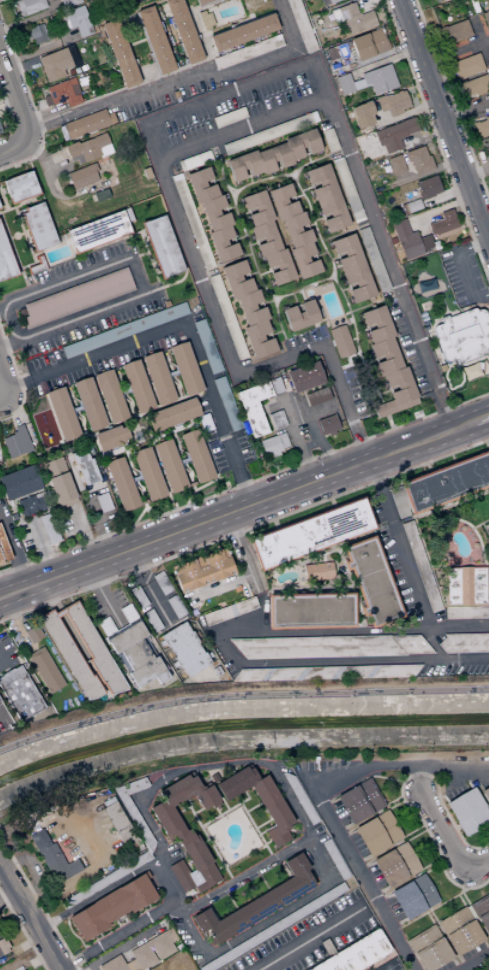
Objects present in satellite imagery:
building: (83, 0)
building: (434, 0)
building: (330, 1)
road: (359, 1)
building: (69, 2)
building: (203, 2)
building: (323, 2)
building: (29, 6)
building: (333, 15)
building: (353, 19)
building: (485, 19)
building: (64, 20)
building: (79, 20)
building: (205, 20)
road: (15, 24)
building: (300, 25)
building: (184, 30)
road: (476, 31)
building: (245, 32)
building: (453, 32)
building: (38, 33)
building: (156, 40)
building: (368, 44)
road: (40, 50)
road: (455, 50)
building: (247, 52)
building: (121, 53)
road: (376, 55)
road: (381, 62)
building: (55, 64)
building: (465, 65)
road: (2, 66)
road: (21, 66)
road: (184, 76)
building: (378, 78)
building: (343, 84)
building: (73, 86)
building: (473, 86)
road: (228, 90)
building: (61, 94)
road: (7, 96)
road: (15, 97)
road: (412, 99)
road: (451, 101)
building: (392, 103)
road: (31, 104)
building: (56, 104)
road: (9, 106)
road: (465, 109)
road: (44, 111)
road: (9, 115)
building: (360, 115)
road: (401, 115)
building: (229, 117)
road: (443, 121)
building: (86, 124)
building: (481, 126)
road: (242, 127)
building: (0, 132)
building: (268, 133)
building: (394, 134)
building: (328, 140)
road: (436, 141)
building: (300, 144)
road: (12, 147)
building: (87, 148)
building: (105, 150)
building: (271, 158)
building: (193, 160)
building: (418, 160)
building: (241, 165)
building: (395, 165)
road: (476, 172)
road: (423, 174)
building: (83, 176)
road: (289, 177)
road: (217, 179)
road: (224, 182)
building: (199, 185)
building: (20, 187)
building: (426, 187)
road: (231, 188)
building: (347, 190)
road: (2, 191)
road: (54, 193)
building: (101, 195)
road: (443, 195)
building: (325, 198)
road: (3, 201)
building: (367, 201)
building: (281, 202)
road: (17, 205)
building: (412, 206)
building: (255, 208)
road: (435, 210)
building: (212, 214)
road: (241, 214)
road: (484, 220)
road: (239, 221)
building: (192, 222)
building: (443, 222)
building: (38, 227)
building: (429, 228)
building: (294, 230)
building: (99, 232)
road: (449, 232)
road: (21, 233)
road: (10, 237)
road: (239, 237)
road: (13, 238)
building: (263, 238)
building: (405, 240)
building: (424, 242)
road: (107, 243)
road: (27, 244)
building: (220, 244)
road: (251, 244)
road: (382, 245)
building: (162, 247)
road: (12, 250)
road: (36, 253)
road: (138, 255)
building: (372, 259)
building: (6, 260)
road: (149, 260)
road: (413, 260)
building: (302, 261)
parking lot: (78, 262)
road: (224, 264)
building: (37, 266)
road: (465, 266)
building: (276, 267)
road: (440, 267)
building: (350, 268)
road: (252, 273)
road: (264, 273)
road: (437, 273)
road: (136, 275)
building: (234, 279)
road: (65, 280)
road: (336, 285)
building: (424, 286)
road: (345, 288)
road: (444, 290)
building: (77, 298)
road: (294, 298)
road: (267, 301)
road: (273, 301)
building: (248, 308)
road: (88, 313)
road: (276, 316)
building: (297, 316)
building: (227, 317)
road: (326, 317)
road: (183, 321)
road: (9, 322)
building: (374, 325)
parking lot: (94, 326)
building: (125, 330)
road: (362, 330)
building: (461, 336)
building: (256, 339)
road: (351, 339)
building: (339, 341)
building: (207, 346)
road: (226, 353)
building: (383, 355)
road: (345, 357)
parking lot: (43, 360)
road: (371, 361)
road: (172, 365)
building: (187, 369)
building: (469, 372)
road: (173, 373)
building: (306, 376)
building: (158, 378)
road: (17, 381)
road: (171, 381)
road: (124, 383)
building: (335, 383)
building: (138, 385)
building: (276, 385)
road: (122, 388)
road: (387, 390)
road: (125, 391)
building: (396, 393)
building: (111, 395)
building: (317, 396)
road: (123, 399)
road: (76, 401)
building: (90, 403)
building: (227, 404)
building: (255, 406)
road: (12, 409)
road: (77, 409)
road: (76, 411)
building: (63, 413)
building: (174, 414)
road: (130, 416)
road: (75, 417)
building: (277, 419)
road: (481, 420)
road: (388, 422)
building: (329, 425)
building: (45, 429)
road: (316, 430)
road: (201, 432)
road: (158, 433)
building: (112, 437)
road: (295, 438)
road: (157, 440)
building: (17, 442)
building: (270, 445)
road: (182, 453)
building: (196, 456)
road: (452, 458)
road: (184, 461)
building: (171, 465)
building: (85, 466)
road: (185, 466)
building: (55, 467)
road: (183, 468)
road: (135, 470)
road: (133, 473)
building: (150, 474)
road: (136, 478)
building: (20, 482)
building: (123, 483)
building: (447, 483)
road: (244, 484)
road: (134, 486)
building: (63, 487)
road: (170, 501)
building: (400, 502)
building: (68, 503)
building: (30, 505)
road: (236, 510)
road: (152, 511)
road: (139, 516)
road: (275, 524)
building: (50, 528)
road: (244, 529)
building: (314, 534)
road: (83, 535)
road: (398, 546)
road: (42, 547)
building: (4, 548)
road: (14, 551)
road: (241, 553)
building: (422, 566)
building: (203, 570)
building: (319, 571)
building: (374, 581)
building: (162, 583)
road: (218, 586)
building: (467, 586)
road: (148, 589)
road: (103, 597)
building: (139, 598)
building: (176, 606)
building: (314, 610)
building: (231, 611)
building: (467, 612)
building: (153, 621)
road: (14, 623)
road: (353, 631)
building: (33, 633)
building: (466, 643)
building: (413, 644)
road: (432, 644)
building: (131, 645)
building: (317, 647)
building: (185, 648)
building: (95, 649)
building: (70, 658)
road: (345, 661)
road: (1, 664)
building: (46, 670)
building: (390, 671)
building: (148, 672)
building: (299, 674)
building: (20, 693)
road: (240, 695)
building: (0, 700)
road: (1, 713)
road: (262, 763)
road: (418, 779)
road: (452, 781)
road: (315, 791)
building: (189, 793)
road: (400, 794)
building: (486, 794)
building: (300, 798)
building: (261, 801)
building: (361, 801)
road: (224, 804)
road: (253, 807)
road: (186, 808)
building: (135, 810)
road: (227, 810)
road: (197, 811)
road: (217, 812)
building: (469, 812)
road: (262, 824)
building: (123, 829)
road: (266, 830)
road: (256, 831)
building: (379, 833)
road: (447, 840)
road: (205, 841)
road: (267, 842)
road: (211, 845)
road: (261, 845)
building: (188, 846)
road: (262, 847)
building: (53, 858)
building: (335, 860)
building: (397, 865)
road: (225, 866)
road: (219, 868)
building: (182, 876)
road: (246, 876)
building: (195, 878)
building: (109, 879)
road: (162, 883)
road: (7, 895)
building: (415, 897)
building: (260, 903)
building: (347, 903)
road: (38, 904)
building: (113, 906)
road: (429, 910)
building: (482, 912)
road: (30, 917)
building: (274, 928)
road: (22, 932)
building: (461, 932)
building: (171, 934)
road: (117, 936)
building: (344, 936)
road: (310, 938)
road: (25, 943)
road: (125, 946)
building: (327, 946)
building: (3, 947)
building: (430, 949)
building: (152, 950)
building: (357, 953)
building: (303, 960)
road: (473, 960)
building: (113, 964)
building: (132, 965)
road: (382, 967)
building: (18, 968)

